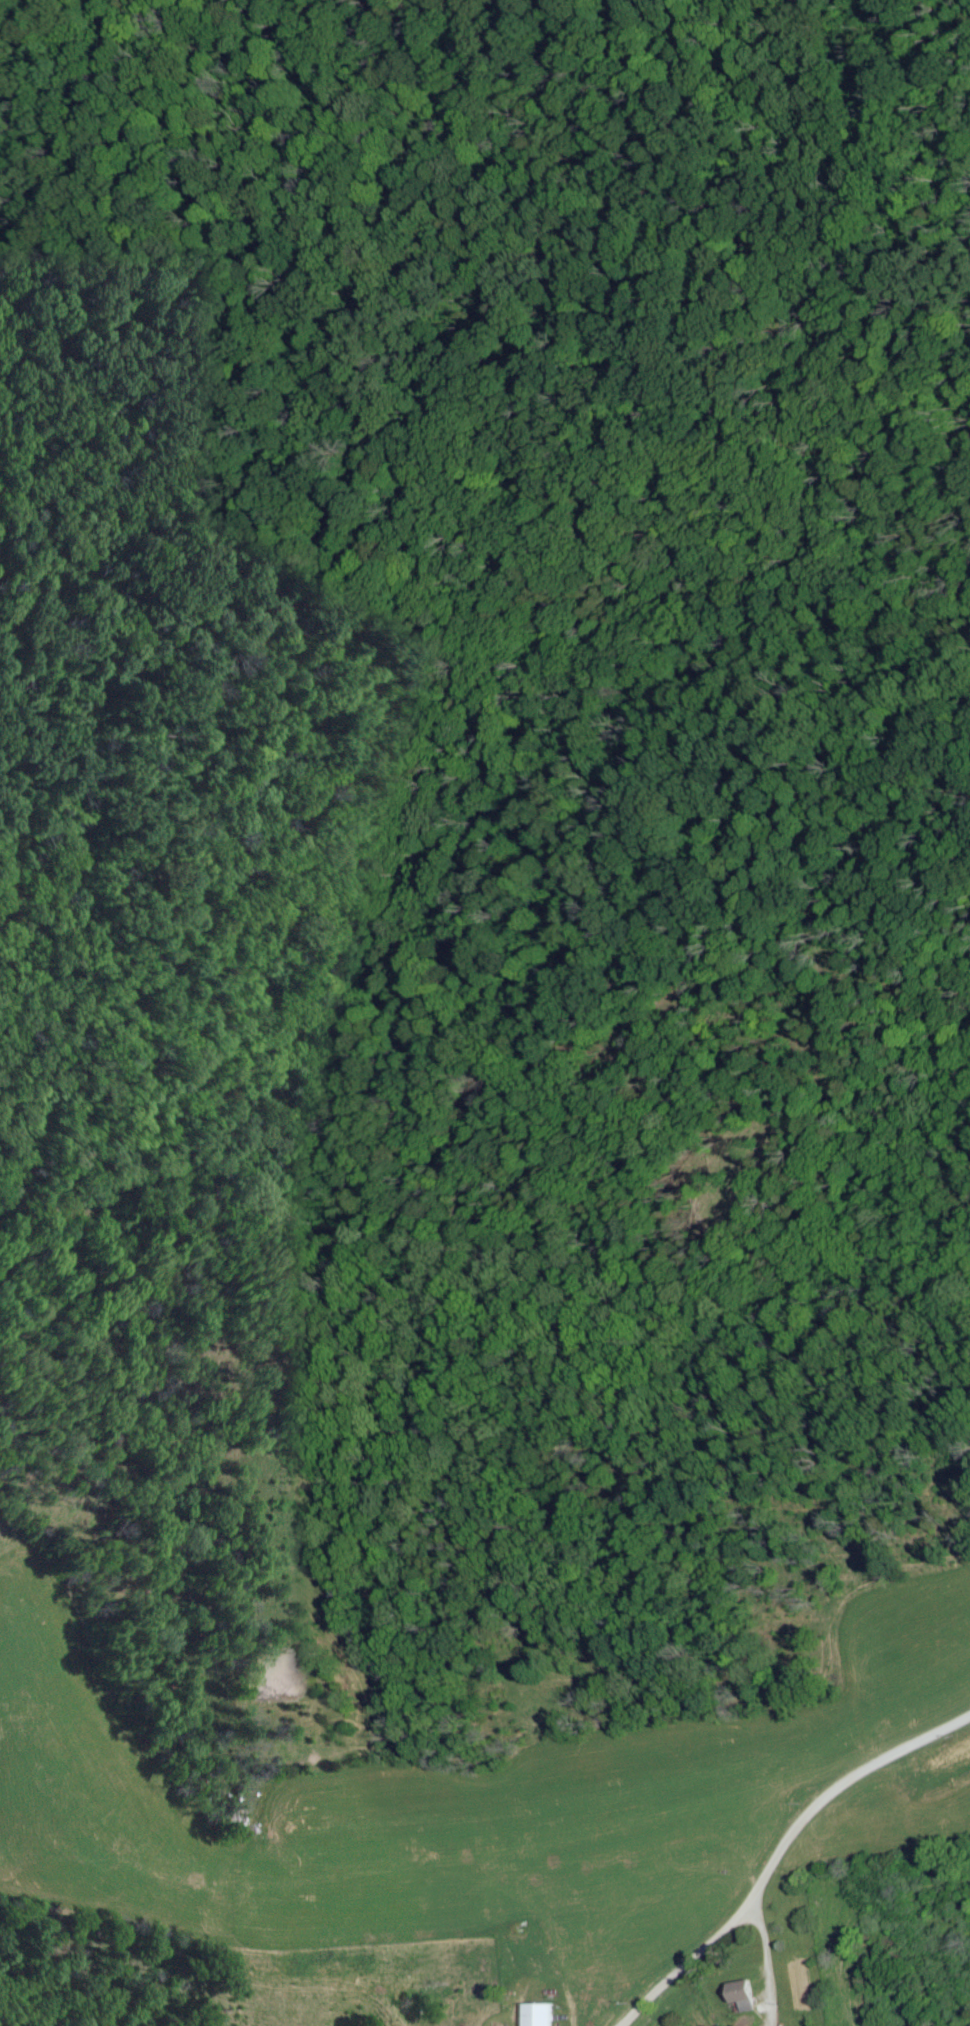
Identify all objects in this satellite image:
road: (779, 1850)
road: (771, 1960)
building: (742, 1996)
building: (537, 2015)

